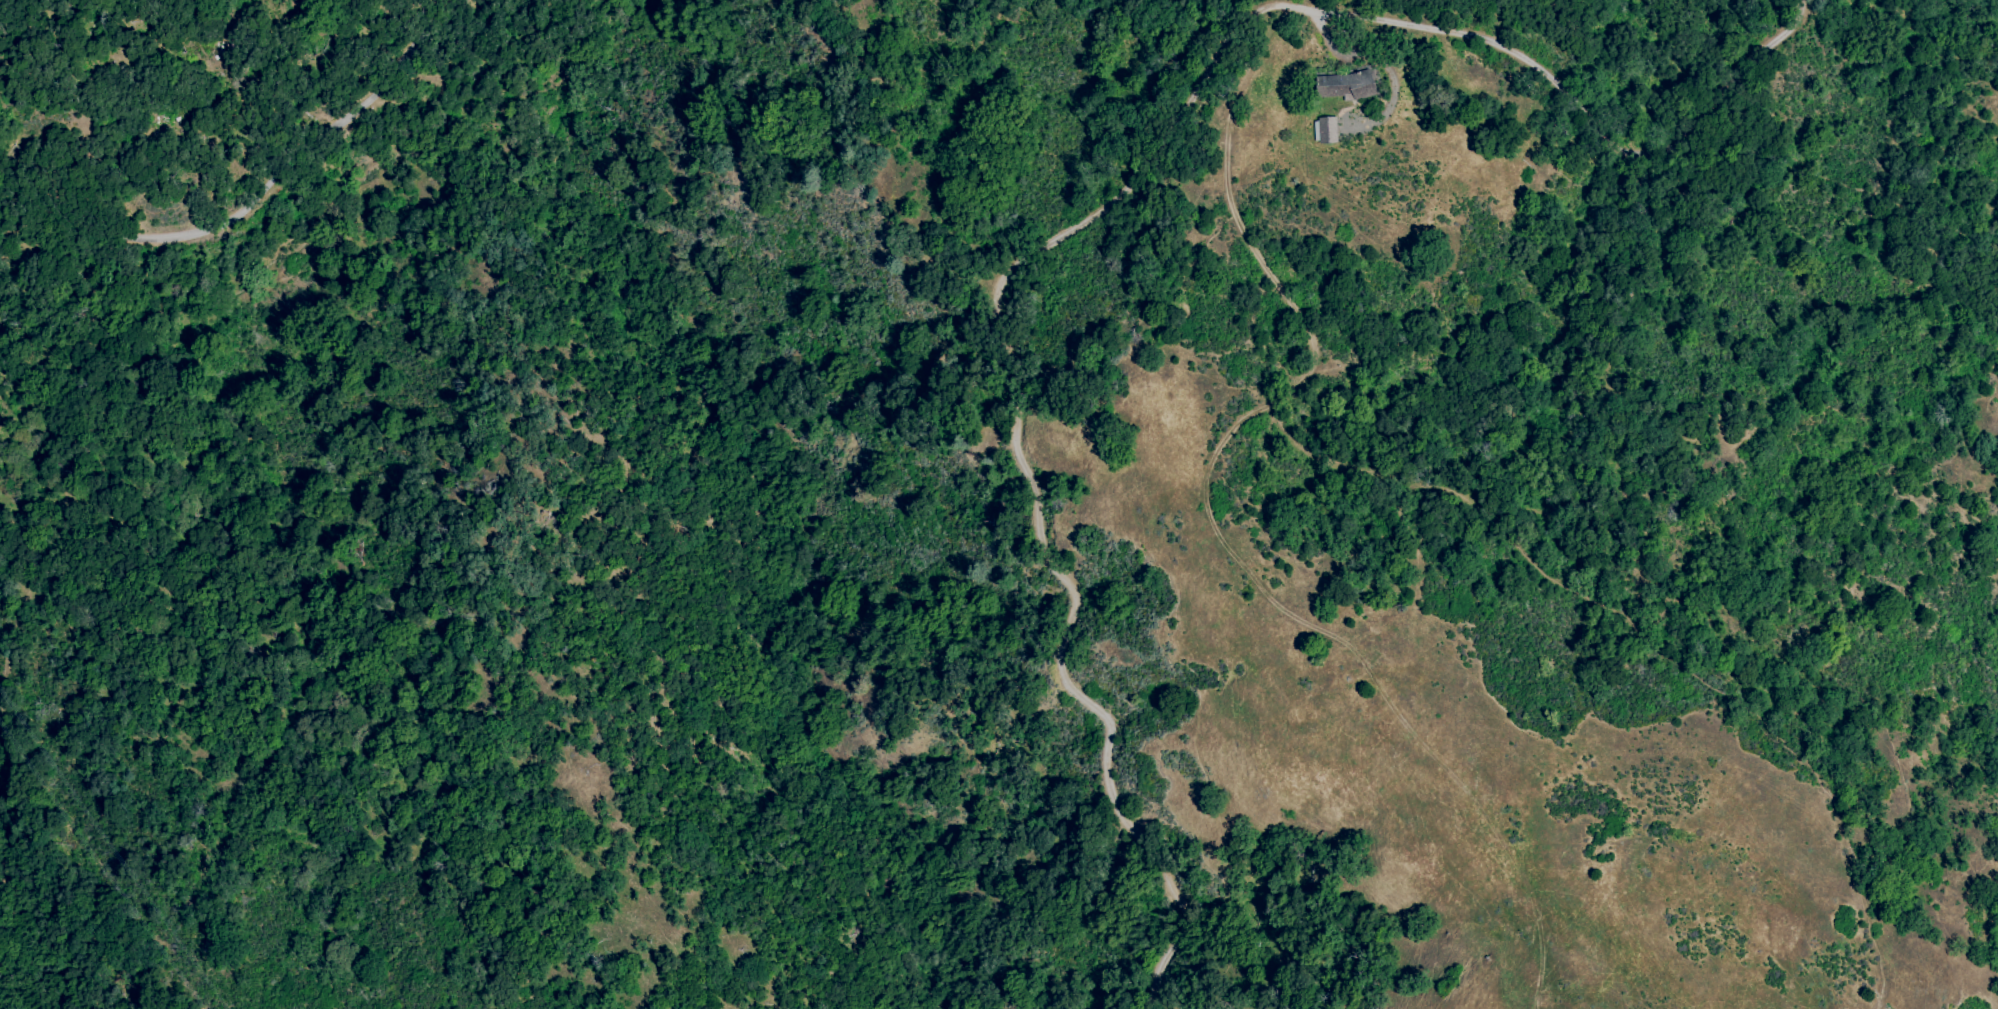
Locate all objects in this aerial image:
road: (1906, 41)
building: (1352, 86)
building: (1326, 129)
road: (284, 178)
road: (1101, 210)

